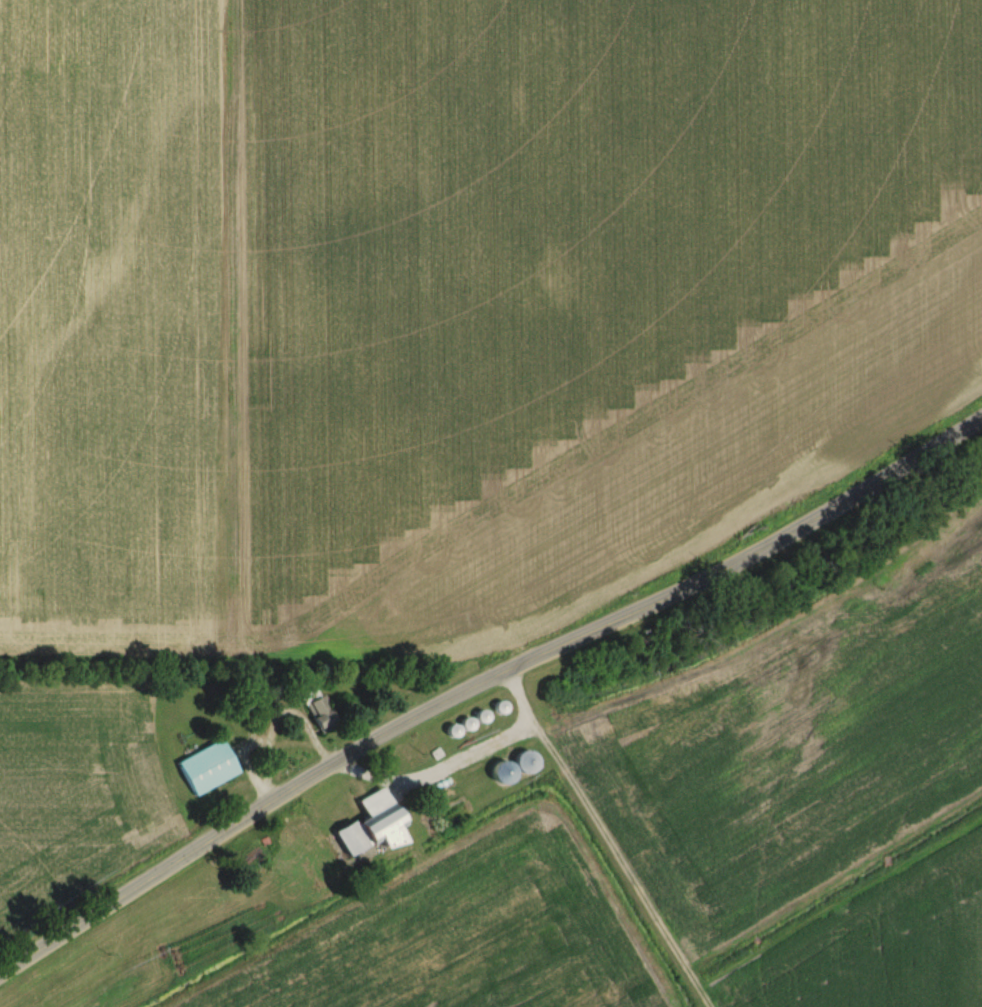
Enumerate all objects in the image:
road: (476, 682)
building: (316, 706)
building: (525, 763)
building: (207, 768)
building: (371, 825)

